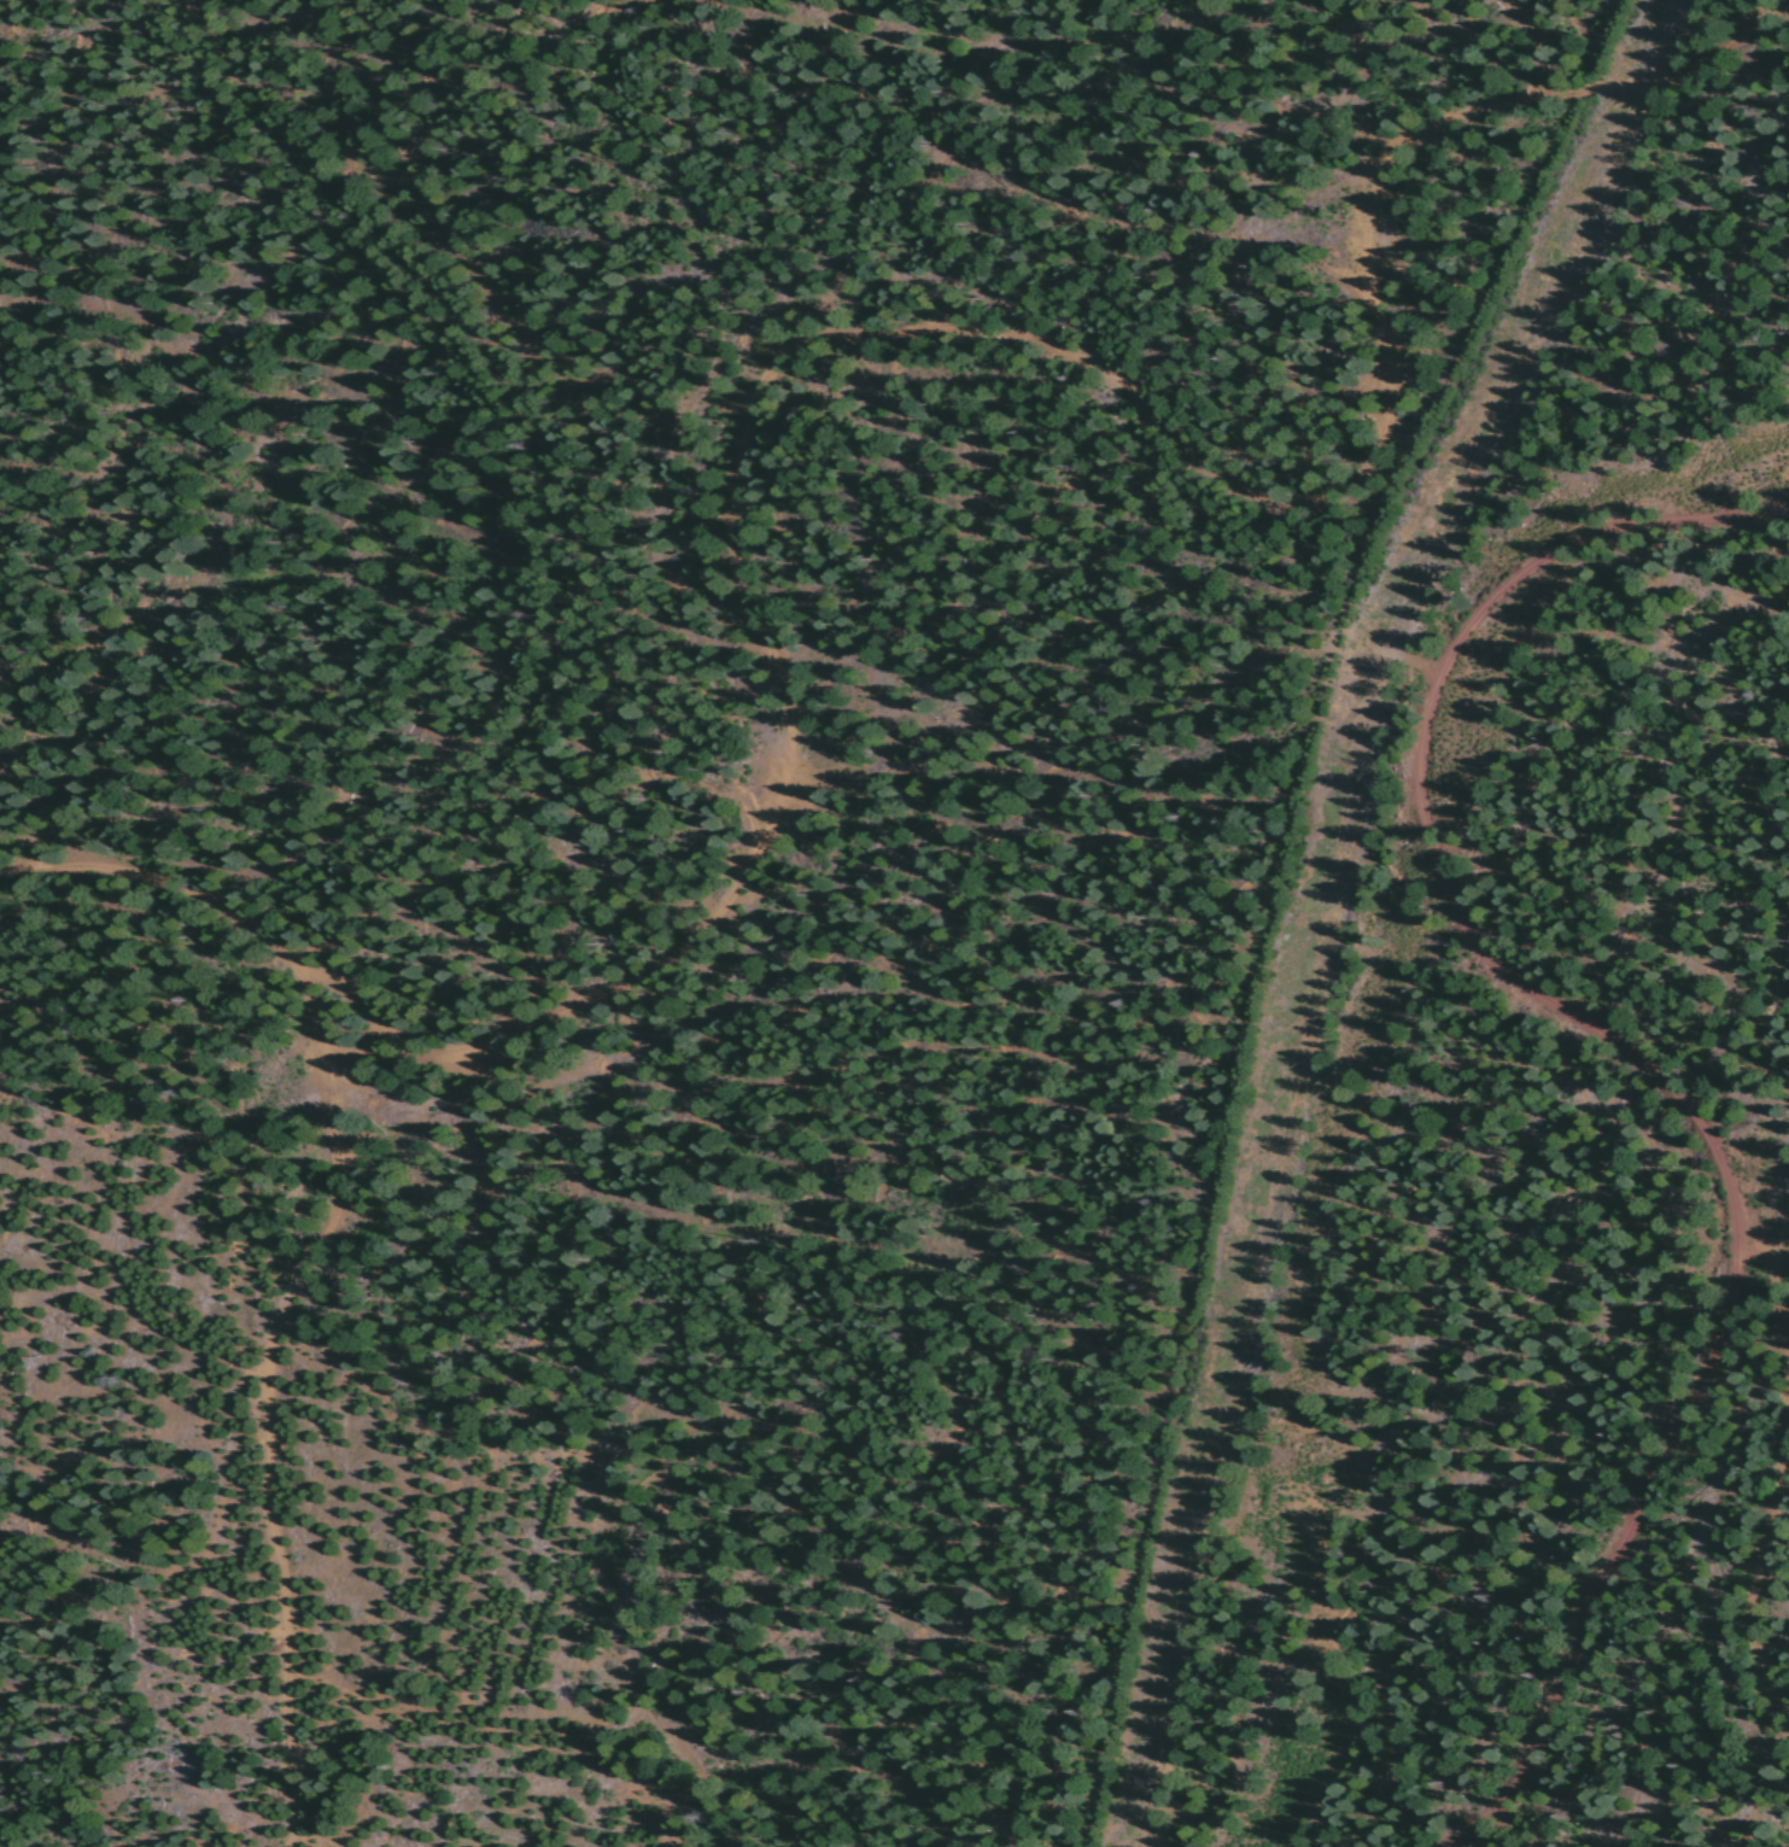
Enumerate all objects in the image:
road: (759, 346)
road: (1372, 707)
road: (1018, 1284)

